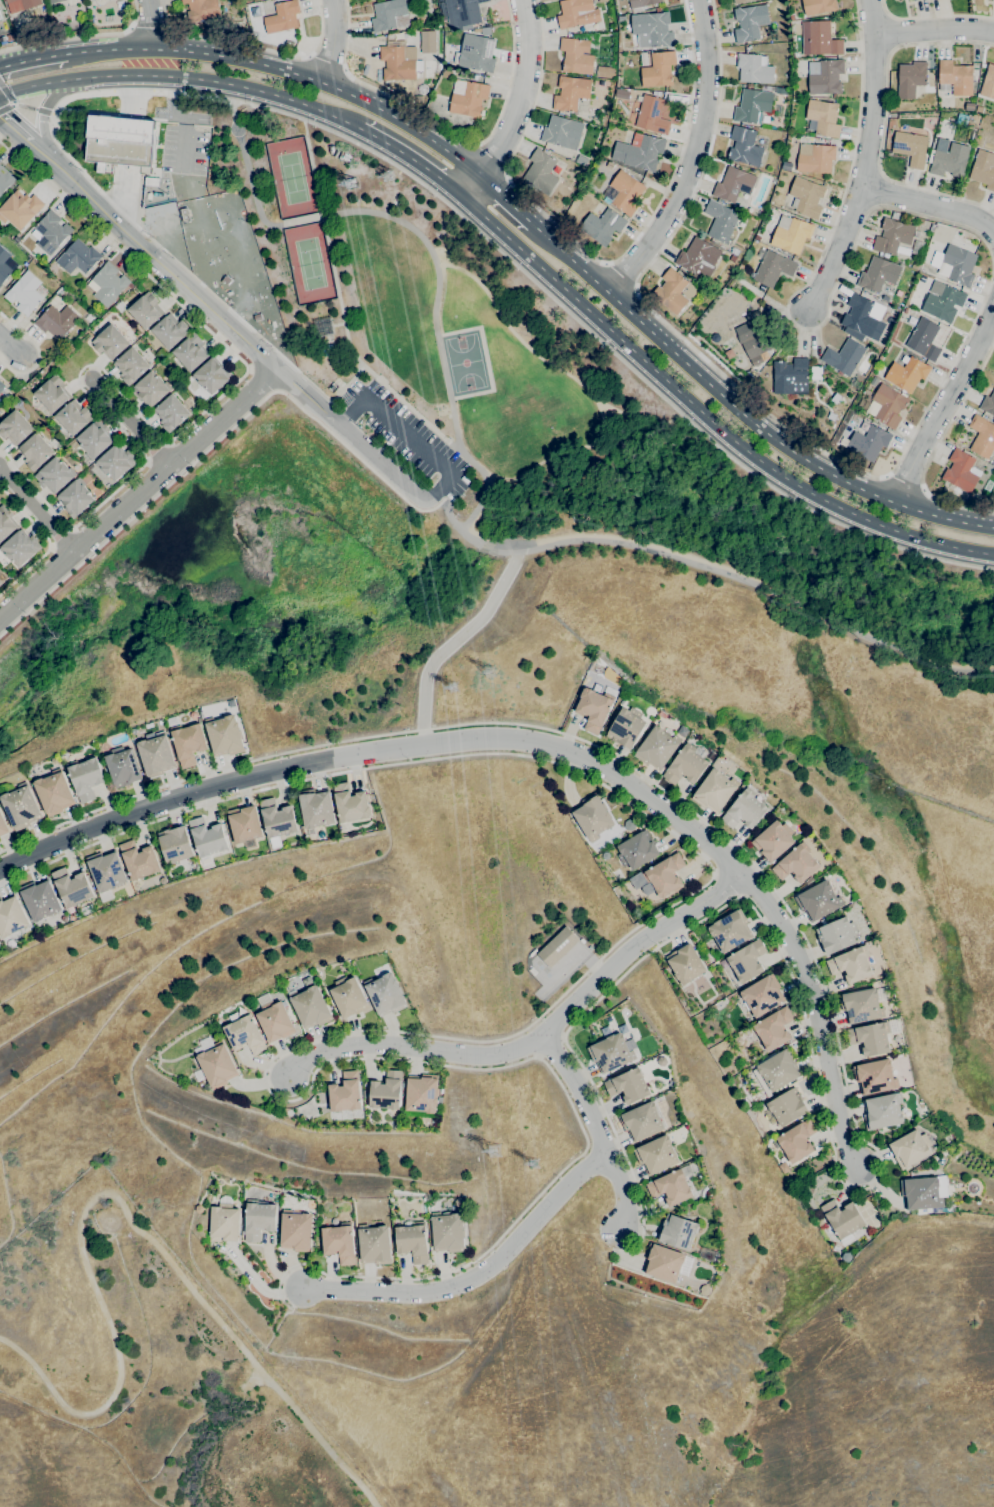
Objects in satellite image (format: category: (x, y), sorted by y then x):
building: (890, 0)
building: (911, 0)
building: (914, 0)
building: (53, 1)
building: (602, 1)
building: (740, 1)
building: (993, 1)
building: (21, 4)
building: (641, 4)
building: (818, 6)
building: (657, 10)
building: (201, 11)
building: (462, 11)
building: (576, 13)
building: (389, 15)
building: (0, 17)
building: (282, 17)
building: (791, 17)
road: (933, 17)
building: (621, 18)
building: (749, 22)
road: (147, 24)
road: (149, 28)
building: (652, 30)
road: (935, 32)
road: (79, 36)
building: (9, 37)
building: (819, 39)
road: (337, 42)
building: (427, 42)
building: (288, 44)
road: (252, 47)
building: (476, 53)
building: (795, 55)
building: (576, 56)
road: (32, 58)
road: (140, 62)
building: (399, 62)
building: (657, 69)
building: (753, 69)
road: (286, 72)
building: (602, 72)
building: (446, 74)
building: (824, 77)
road: (183, 78)
building: (956, 78)
building: (910, 79)
building: (619, 83)
building: (988, 83)
building: (768, 88)
building: (780, 91)
building: (570, 93)
building: (621, 94)
building: (658, 94)
road: (131, 97)
road: (879, 97)
building: (418, 98)
building: (467, 98)
road: (173, 101)
building: (752, 105)
road: (520, 107)
building: (969, 107)
building: (979, 109)
flagpole: (59, 112)
building: (651, 114)
road: (41, 116)
building: (823, 118)
road: (299, 119)
building: (967, 119)
road: (885, 120)
road: (446, 132)
building: (562, 133)
building: (119, 141)
road: (181, 147)
building: (744, 147)
building: (910, 148)
building: (639, 152)
road: (692, 157)
building: (814, 158)
building: (948, 159)
road: (489, 160)
building: (581, 160)
road: (411, 163)
building: (786, 166)
building: (615, 169)
building: (983, 169)
building: (540, 172)
power tower: (388, 175)
park: (291, 177)
building: (5, 179)
power tower: (351, 184)
building: (733, 185)
building: (625, 193)
road: (122, 194)
building: (806, 197)
road: (505, 201)
road: (930, 208)
building: (20, 209)
building: (185, 215)
building: (895, 215)
building: (720, 221)
building: (602, 226)
building: (931, 228)
building: (50, 232)
building: (934, 233)
building: (790, 234)
building: (892, 236)
building: (757, 237)
building: (16, 239)
road: (424, 241)
road: (842, 256)
building: (78, 258)
building: (668, 258)
road: (593, 259)
building: (698, 259)
building: (732, 259)
park: (309, 263)
building: (5, 265)
building: (915, 265)
building: (954, 265)
building: (741, 267)
building: (772, 269)
building: (878, 274)
road: (619, 277)
building: (921, 278)
building: (225, 280)
building: (108, 283)
building: (0, 285)
building: (673, 291)
road: (165, 292)
building: (24, 293)
park: (372, 294)
building: (885, 298)
building: (943, 301)
road: (214, 308)
building: (145, 310)
building: (906, 310)
building: (862, 315)
building: (257, 317)
building: (88, 318)
building: (56, 321)
building: (170, 331)
building: (862, 339)
building: (924, 339)
building: (755, 340)
building: (110, 342)
road: (9, 346)
building: (328, 350)
road: (35, 352)
building: (190, 352)
building: (843, 357)
park: (464, 362)
building: (131, 366)
road: (951, 366)
building: (906, 373)
building: (211, 375)
building: (790, 377)
building: (1, 386)
building: (150, 389)
building: (52, 394)
road: (943, 403)
building: (988, 404)
building: (886, 406)
road: (741, 411)
building: (171, 413)
road: (705, 413)
building: (73, 417)
road: (130, 423)
building: (15, 428)
parking lot: (411, 432)
building: (982, 436)
road: (409, 437)
building: (94, 439)
road: (216, 441)
building: (868, 442)
road: (135, 447)
road: (937, 448)
building: (35, 451)
building: (115, 463)
building: (961, 471)
building: (53, 475)
road: (905, 483)
building: (947, 490)
road: (140, 492)
building: (75, 498)
road: (36, 511)
road: (447, 511)
building: (5, 523)
road: (471, 537)
road: (47, 542)
road: (495, 546)
building: (20, 547)
road: (640, 547)
road: (795, 606)
road: (453, 642)
road: (905, 660)
power tower: (489, 673)
building: (616, 677)
power tower: (451, 690)
building: (232, 703)
building: (593, 709)
building: (626, 727)
building: (224, 735)
building: (188, 743)
building: (656, 748)
road: (382, 752)
building: (156, 755)
building: (123, 766)
building: (685, 766)
building: (86, 777)
building: (714, 791)
building: (54, 793)
building: (350, 803)
building: (21, 807)
building: (316, 808)
building: (744, 811)
building: (592, 817)
building: (277, 819)
building: (244, 824)
building: (3, 825)
building: (207, 837)
building: (773, 840)
building: (175, 845)
building: (637, 850)
building: (138, 860)
building: (796, 865)
building: (106, 873)
building: (659, 877)
building: (72, 887)
building: (39, 899)
building: (817, 901)
building: (86, 910)
building: (11, 916)
building: (730, 931)
building: (836, 935)
building: (558, 946)
road: (633, 946)
building: (746, 961)
building: (685, 964)
building: (850, 965)
building: (385, 994)
building: (762, 996)
building: (348, 997)
building: (863, 1005)
building: (310, 1007)
road: (816, 1014)
building: (274, 1021)
road: (832, 1025)
building: (773, 1028)
building: (244, 1034)
building: (873, 1036)
road: (491, 1038)
road: (410, 1047)
building: (611, 1053)
building: (214, 1063)
building: (777, 1069)
building: (874, 1077)
building: (628, 1086)
building: (386, 1091)
building: (345, 1093)
building: (422, 1094)
building: (785, 1108)
building: (882, 1111)
building: (641, 1121)
road: (593, 1129)
building: (796, 1141)
building: (910, 1149)
power tower: (493, 1151)
building: (656, 1155)
power tower: (531, 1163)
building: (670, 1187)
building: (920, 1194)
road: (122, 1205)
building: (842, 1218)
building: (259, 1219)
building: (224, 1223)
building: (296, 1231)
building: (677, 1231)
building: (447, 1232)
building: (412, 1241)
building: (339, 1243)
building: (375, 1245)
building: (662, 1263)
road: (475, 1276)
park: (154, 1385)

